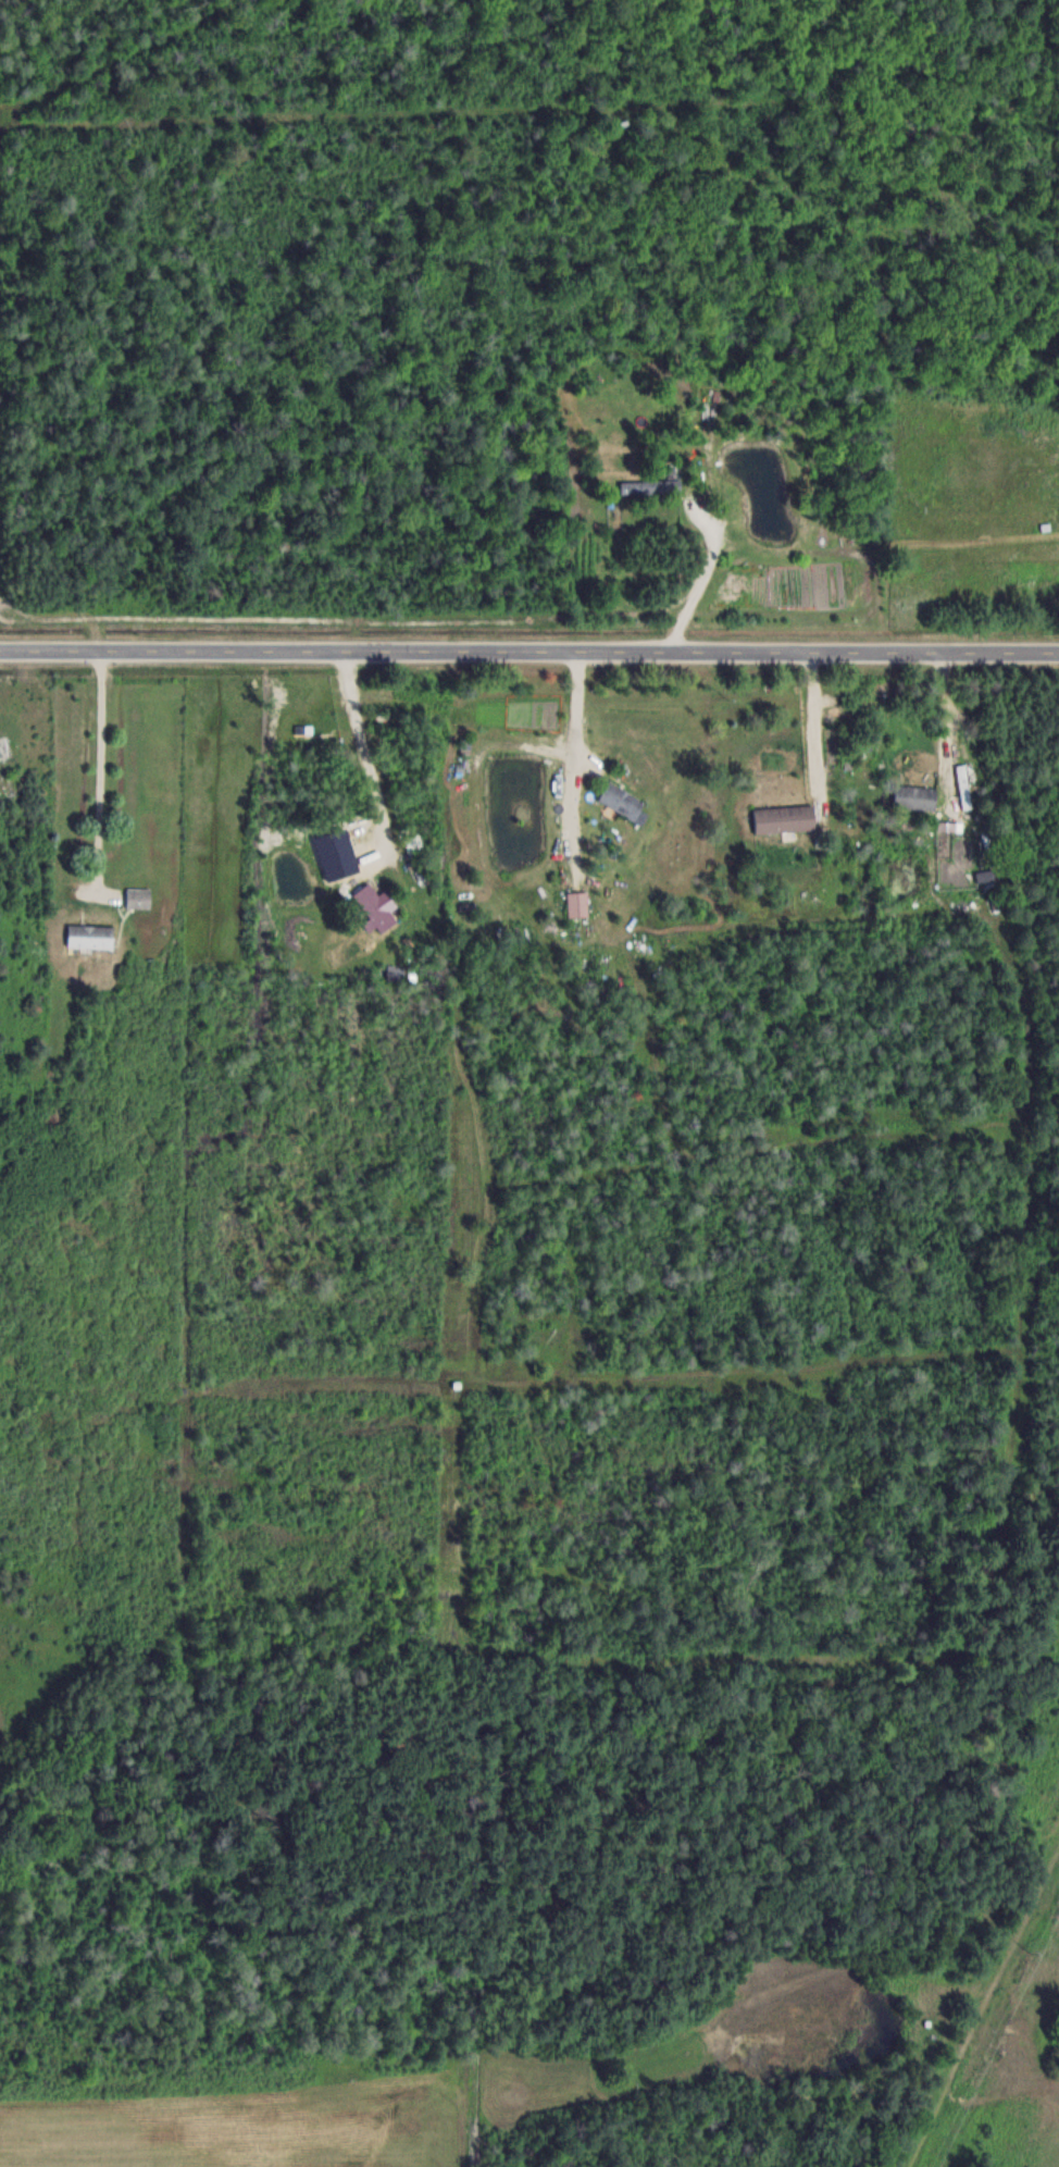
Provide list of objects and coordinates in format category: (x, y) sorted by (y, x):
building: (651, 488)
road: (698, 578)
road: (529, 653)
road: (940, 715)
road: (810, 728)
road: (569, 747)
road: (361, 756)
road: (96, 773)
building: (914, 797)
building: (622, 803)
building: (783, 819)
building: (138, 899)
building: (576, 904)
building: (370, 909)
building: (89, 937)

